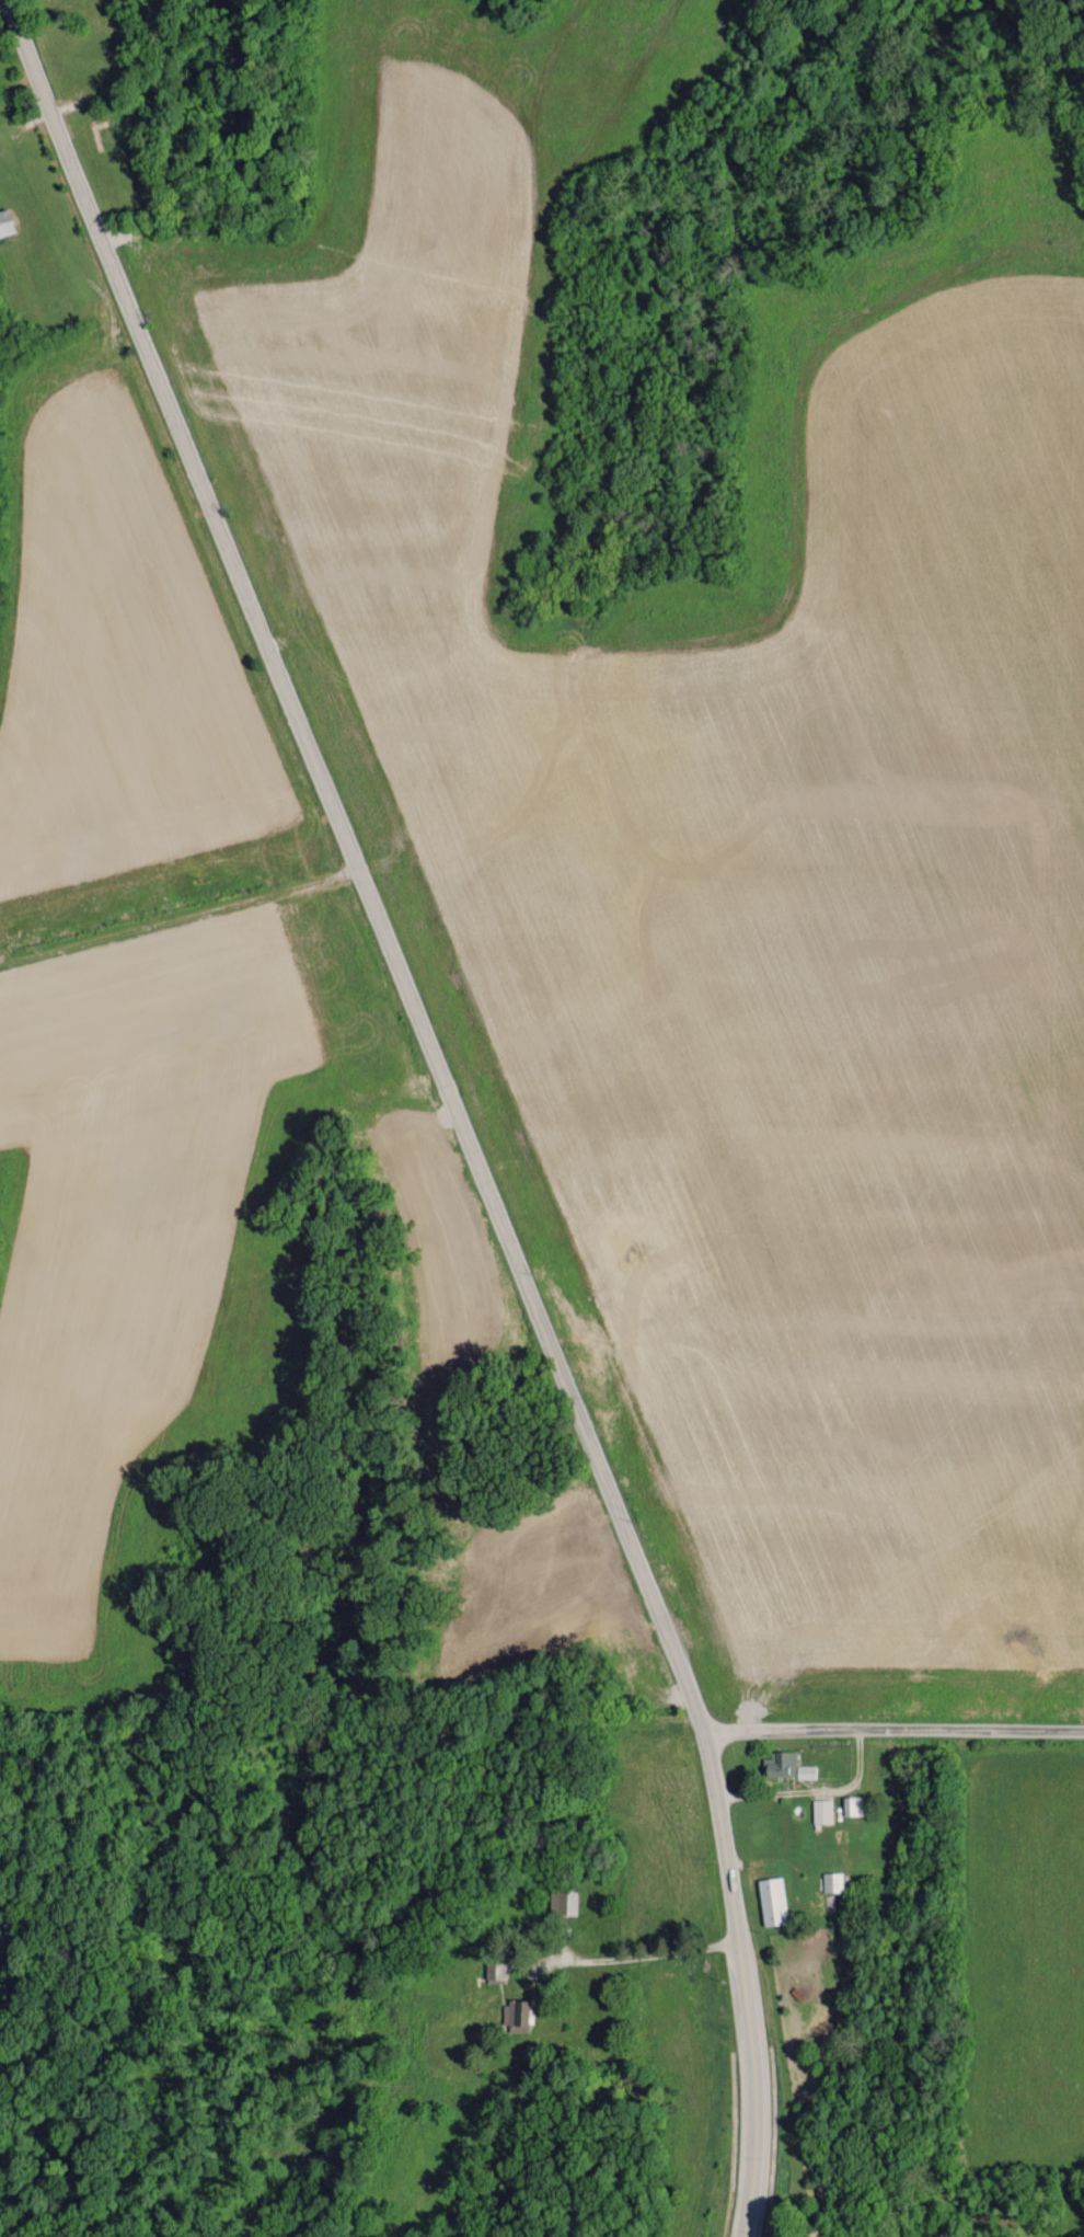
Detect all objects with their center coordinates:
building: (5, 221)
road: (453, 1101)
road: (895, 1730)
building: (780, 1763)
building: (805, 1770)
building: (852, 1804)
building: (821, 1810)
building: (832, 1881)
building: (563, 1901)
building: (771, 1901)
building: (495, 1969)
building: (515, 2015)

